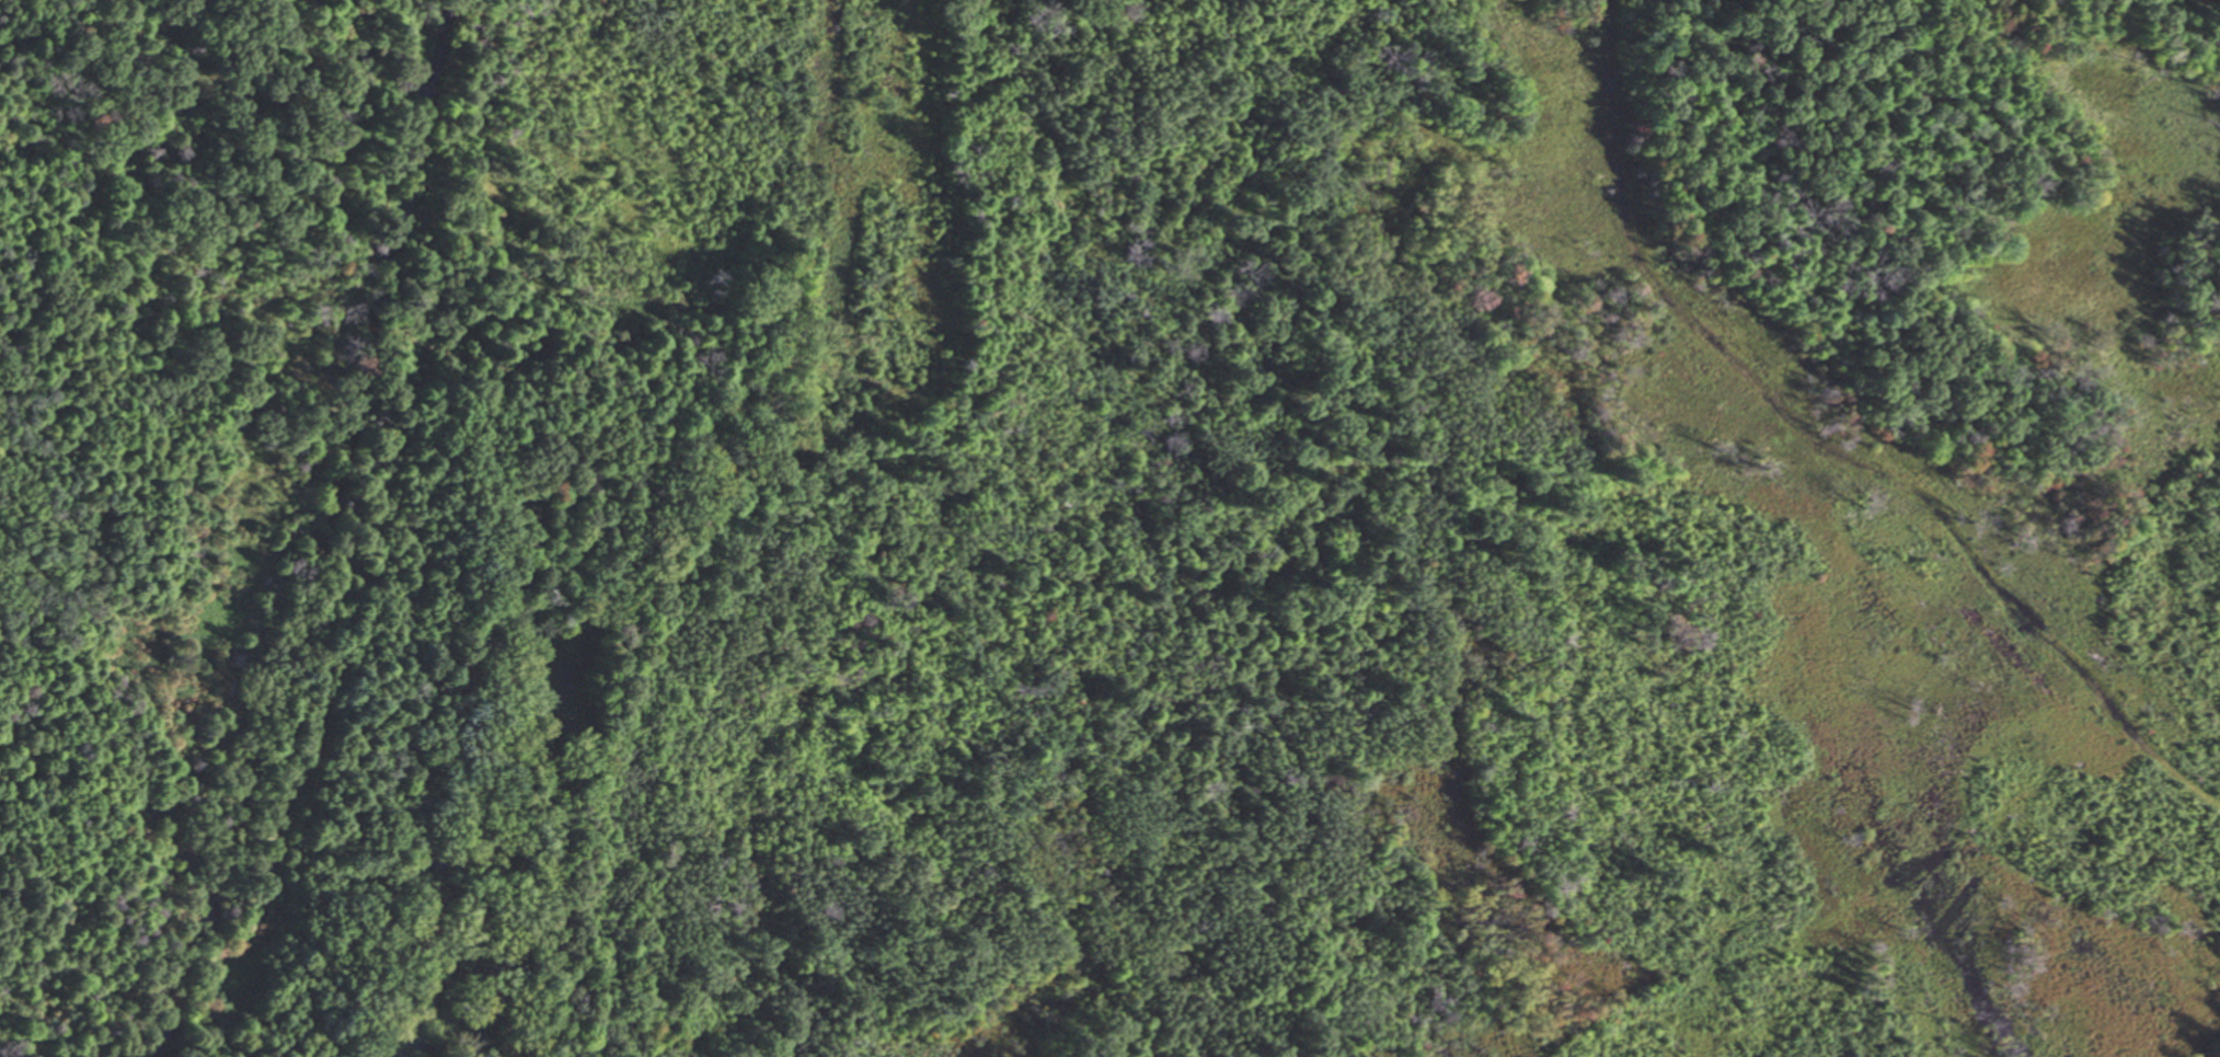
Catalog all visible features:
road: (275, 380)

